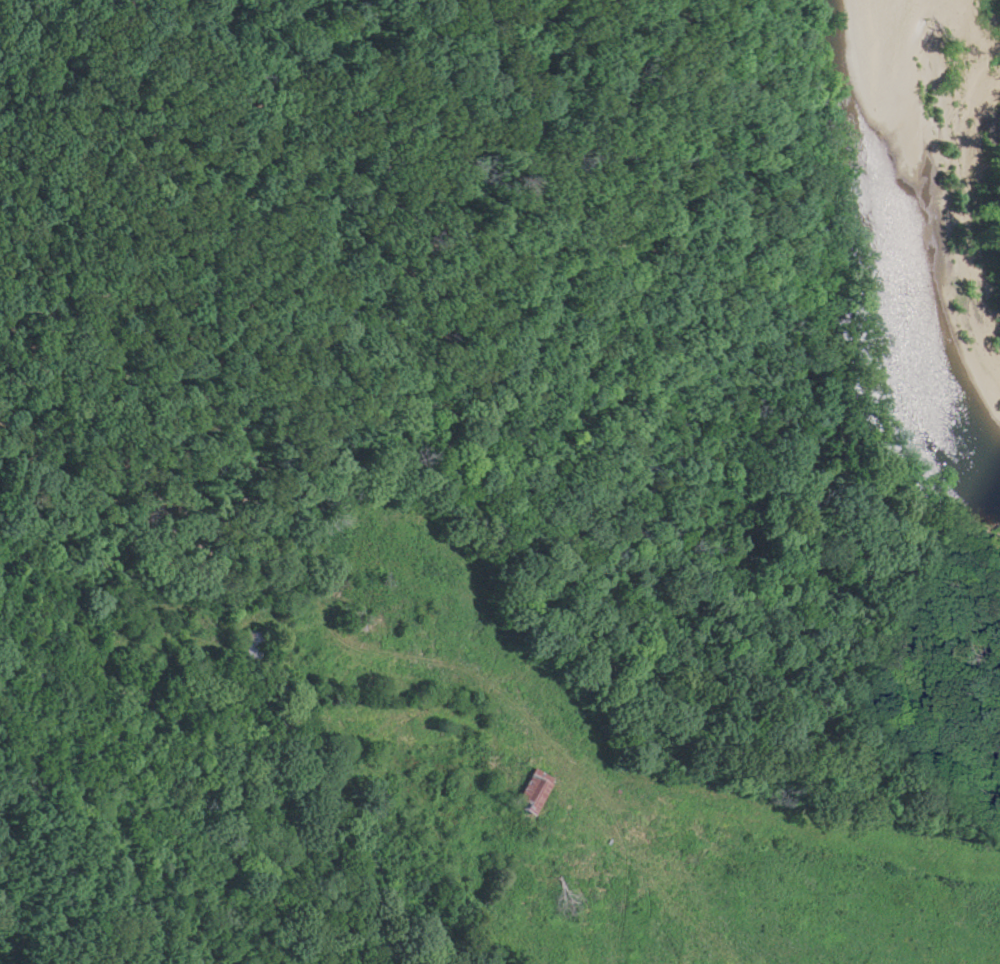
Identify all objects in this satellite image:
river: (880, 259)
road: (154, 533)
building: (250, 646)

